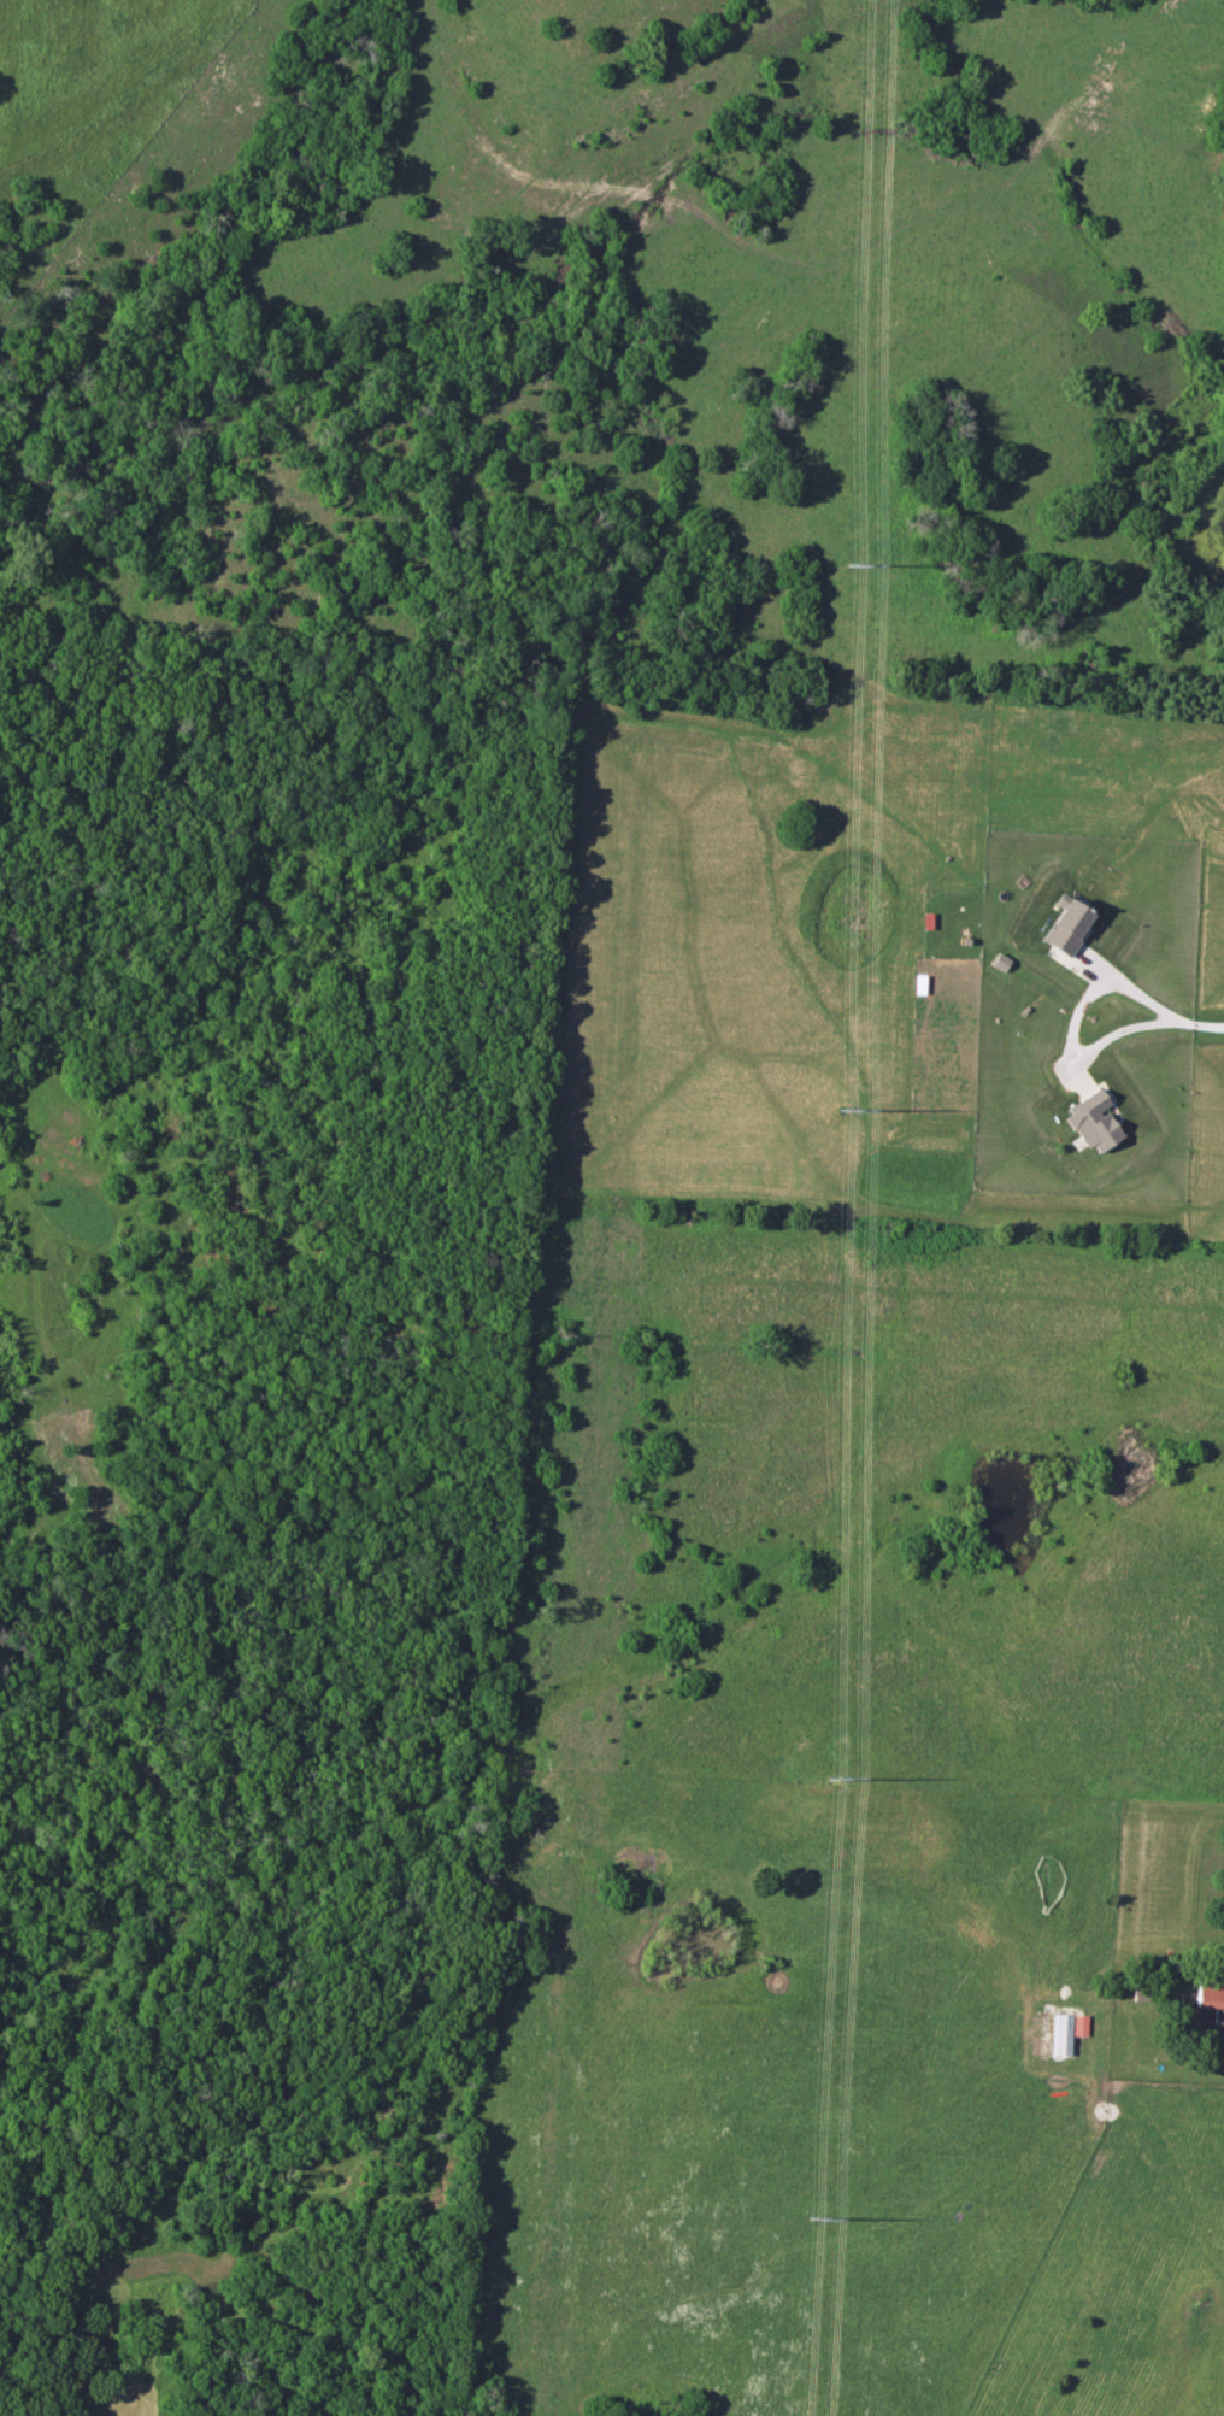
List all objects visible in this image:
power tower: (853, 565)
road: (1075, 1019)
road: (1196, 1024)
power tower: (843, 1110)
power tower: (831, 1777)
building: (1210, 1998)
building: (1065, 2032)
power tower: (813, 2218)

